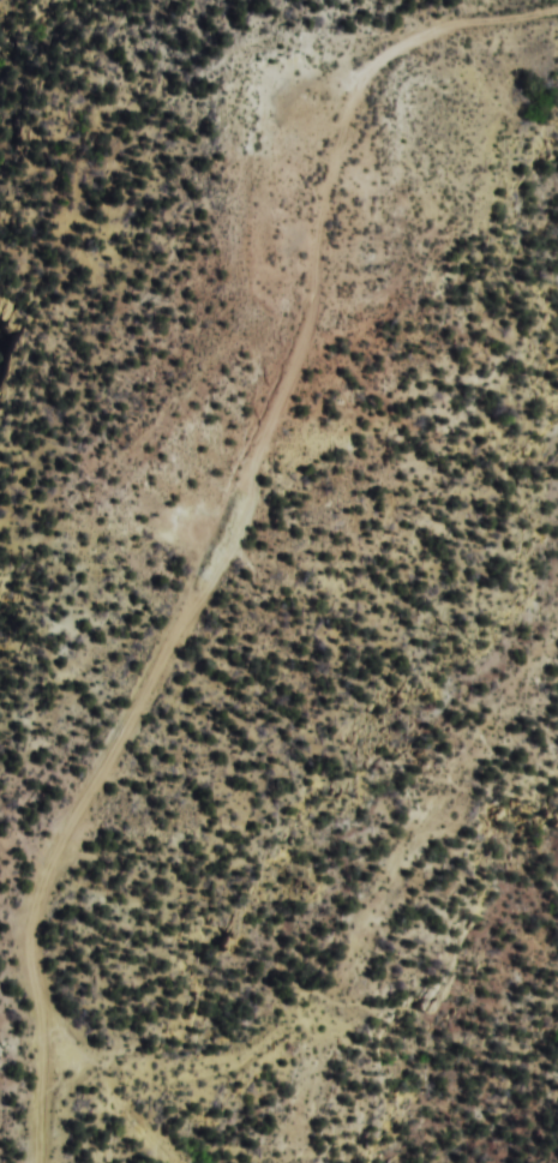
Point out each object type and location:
road: (218, 560)

